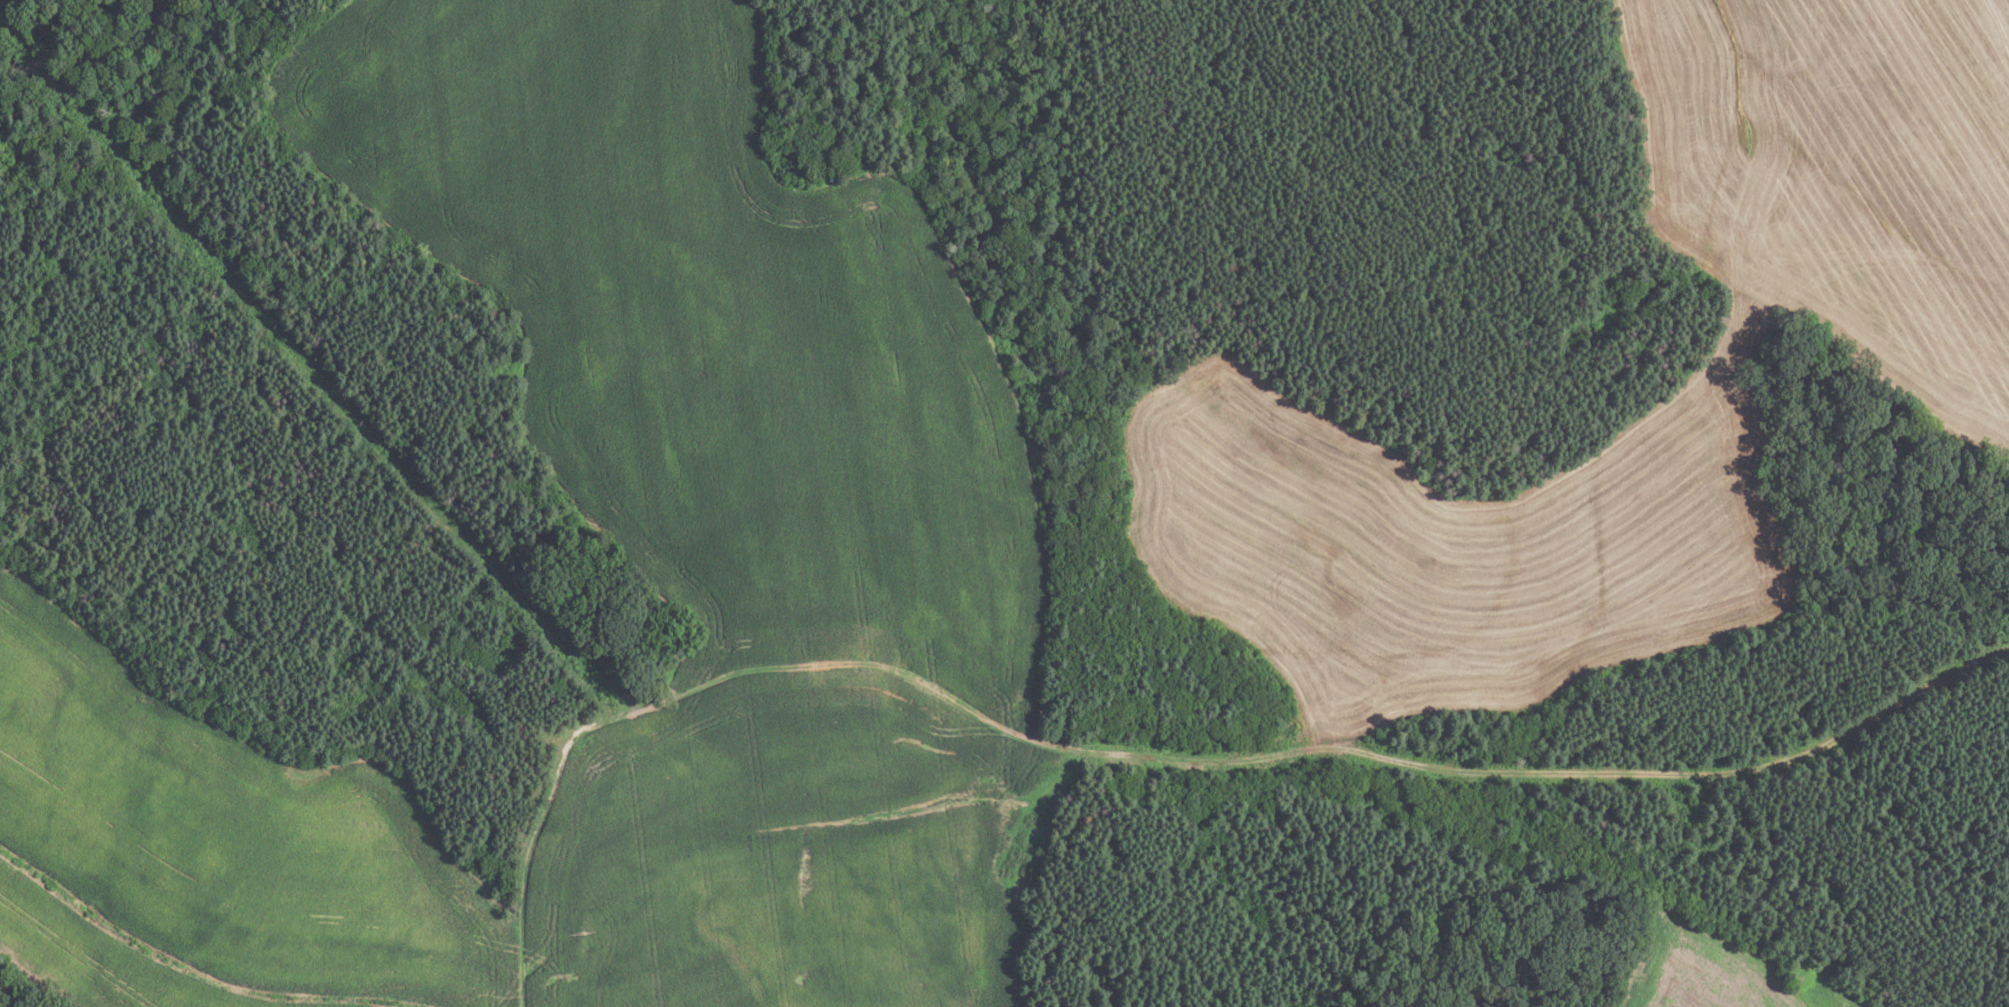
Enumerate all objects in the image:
road: (1997, 27)
crop: (1930, 365)
crop: (795, 473)
road: (1149, 759)
crop: (1717, 969)

